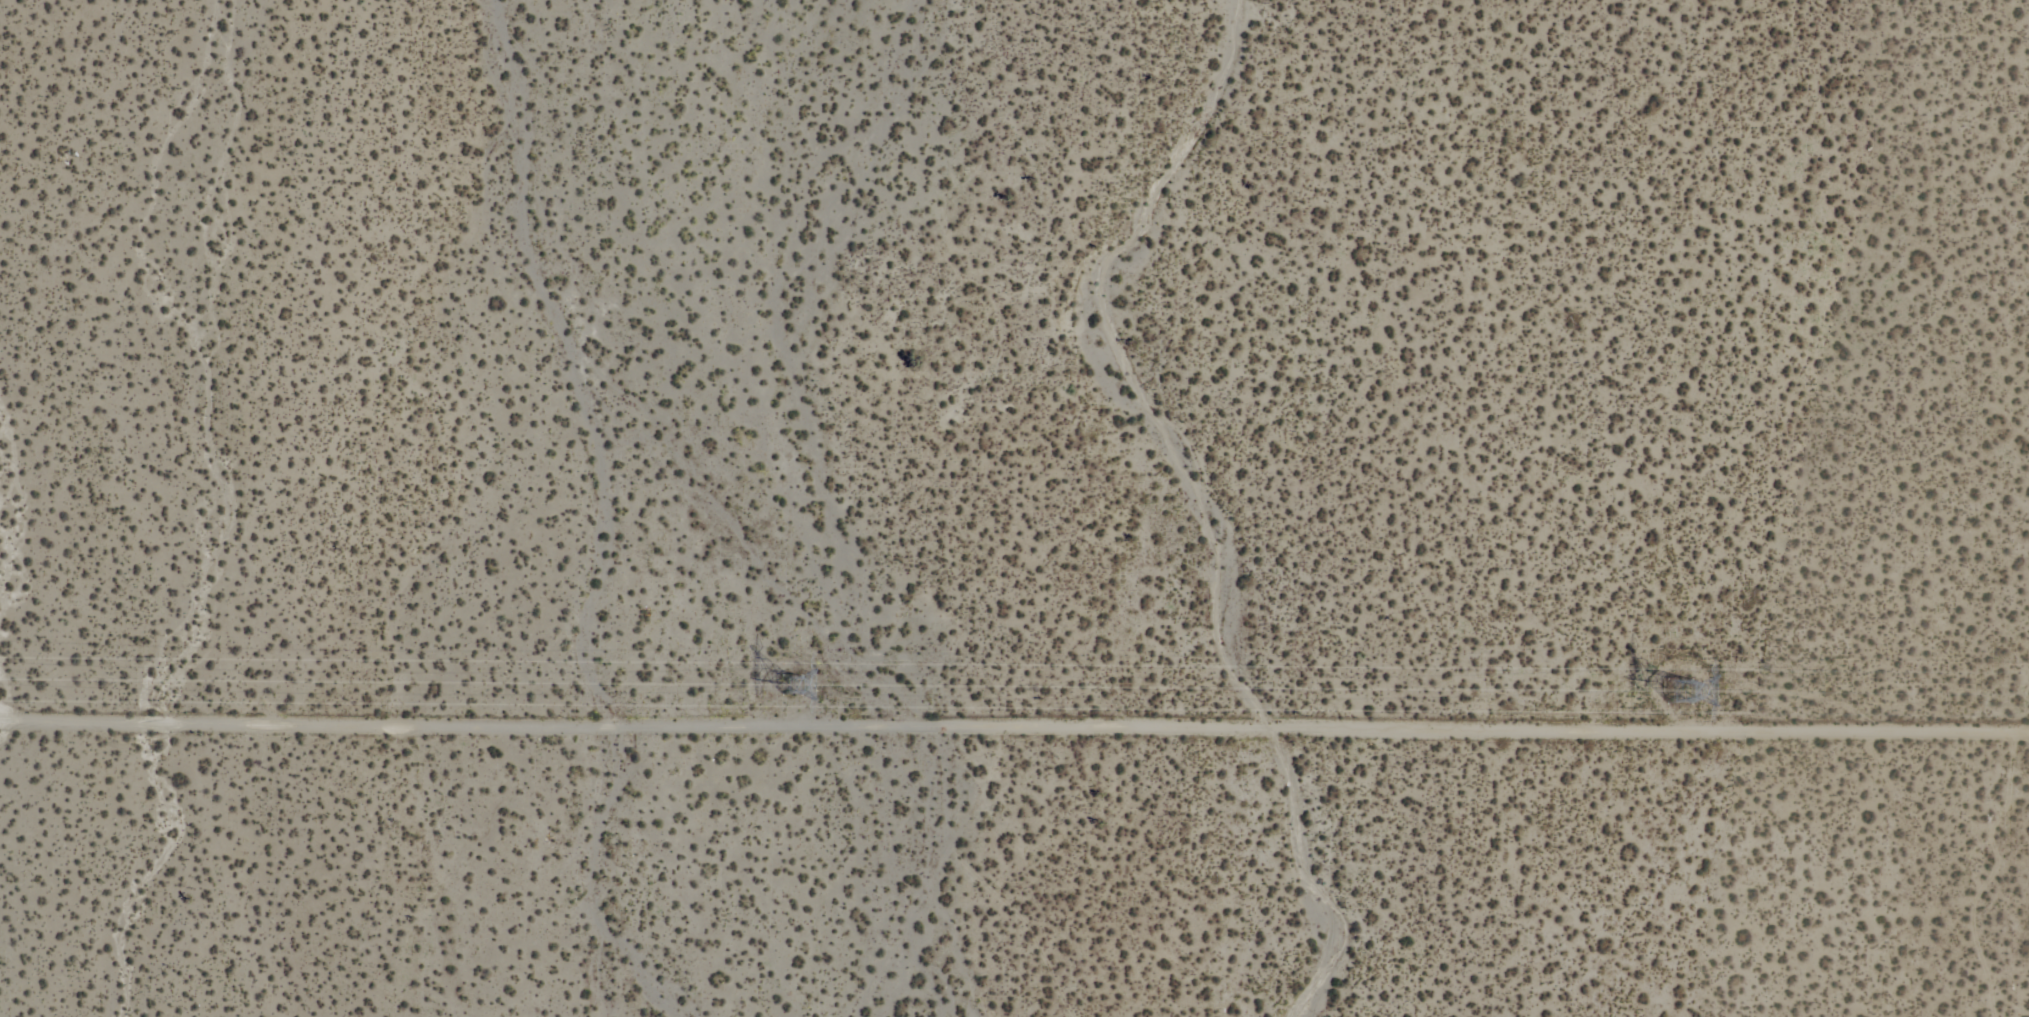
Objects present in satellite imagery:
power tower: (801, 681)
power tower: (1681, 681)
road: (1014, 728)

